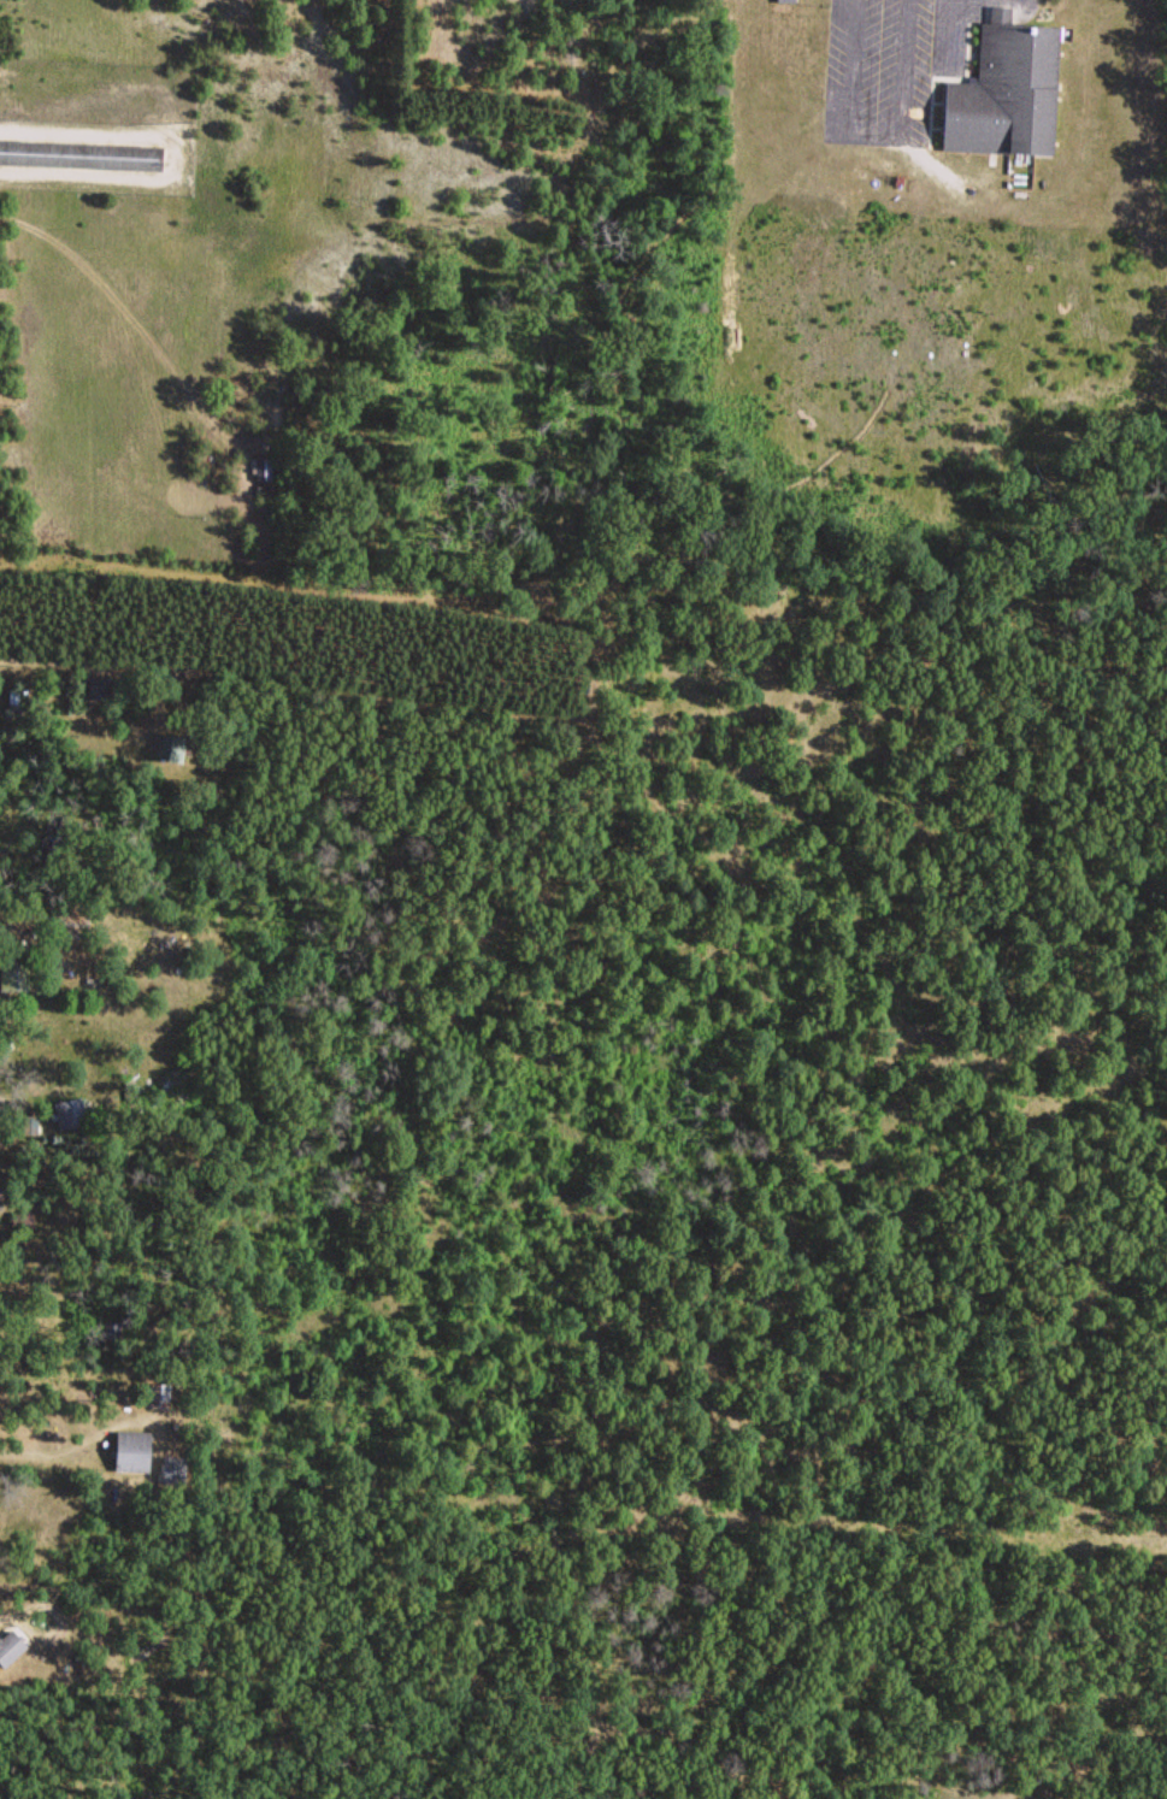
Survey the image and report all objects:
road: (941, 33)
parking lot: (896, 60)
building: (1003, 87)
road: (877, 136)
building: (81, 153)
building: (263, 467)
building: (96, 685)
building: (16, 698)
building: (171, 748)
building: (67, 922)
building: (70, 1111)
road: (376, 1352)
building: (159, 1394)
building: (131, 1450)
building: (173, 1469)
building: (23, 1516)
building: (8, 1645)

